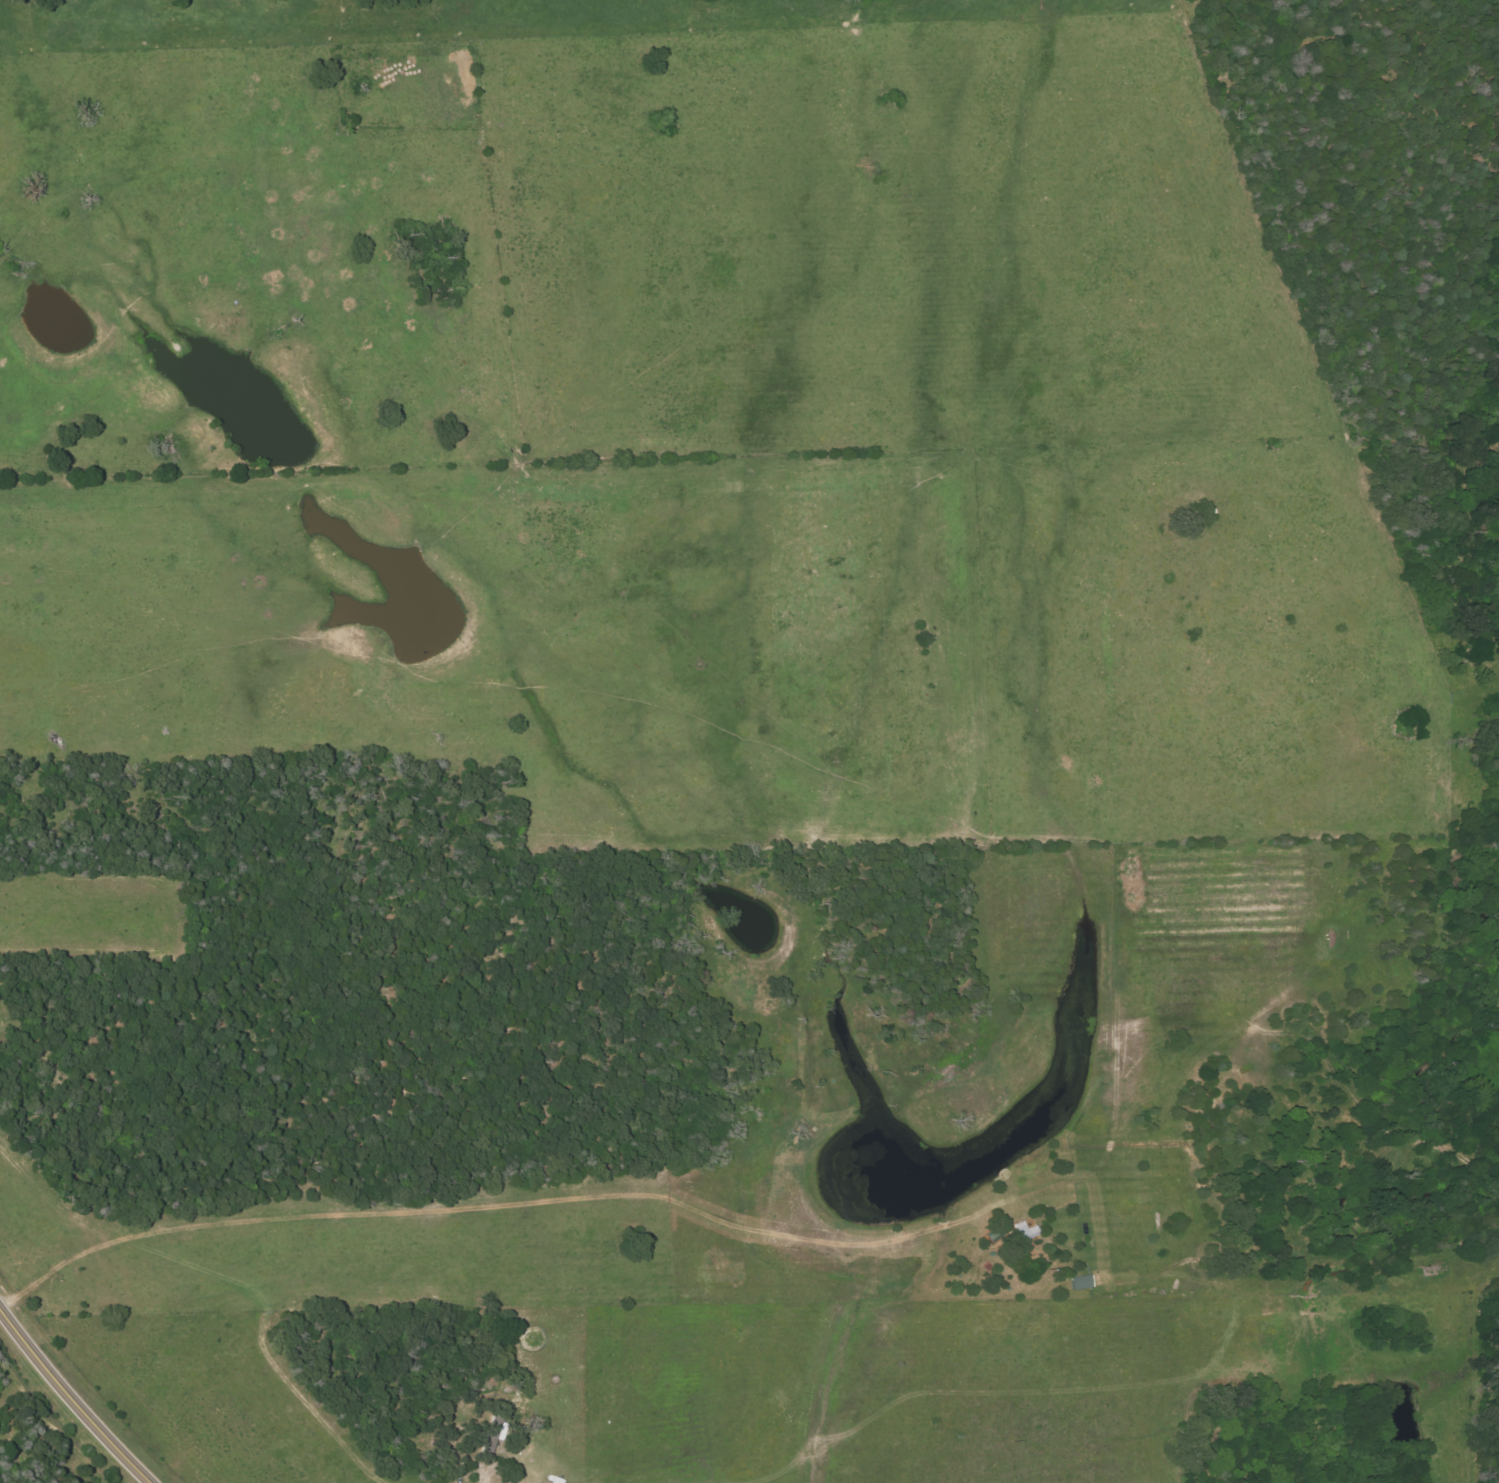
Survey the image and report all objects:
building: (1023, 1232)
building: (1080, 1281)
road: (73, 1398)

